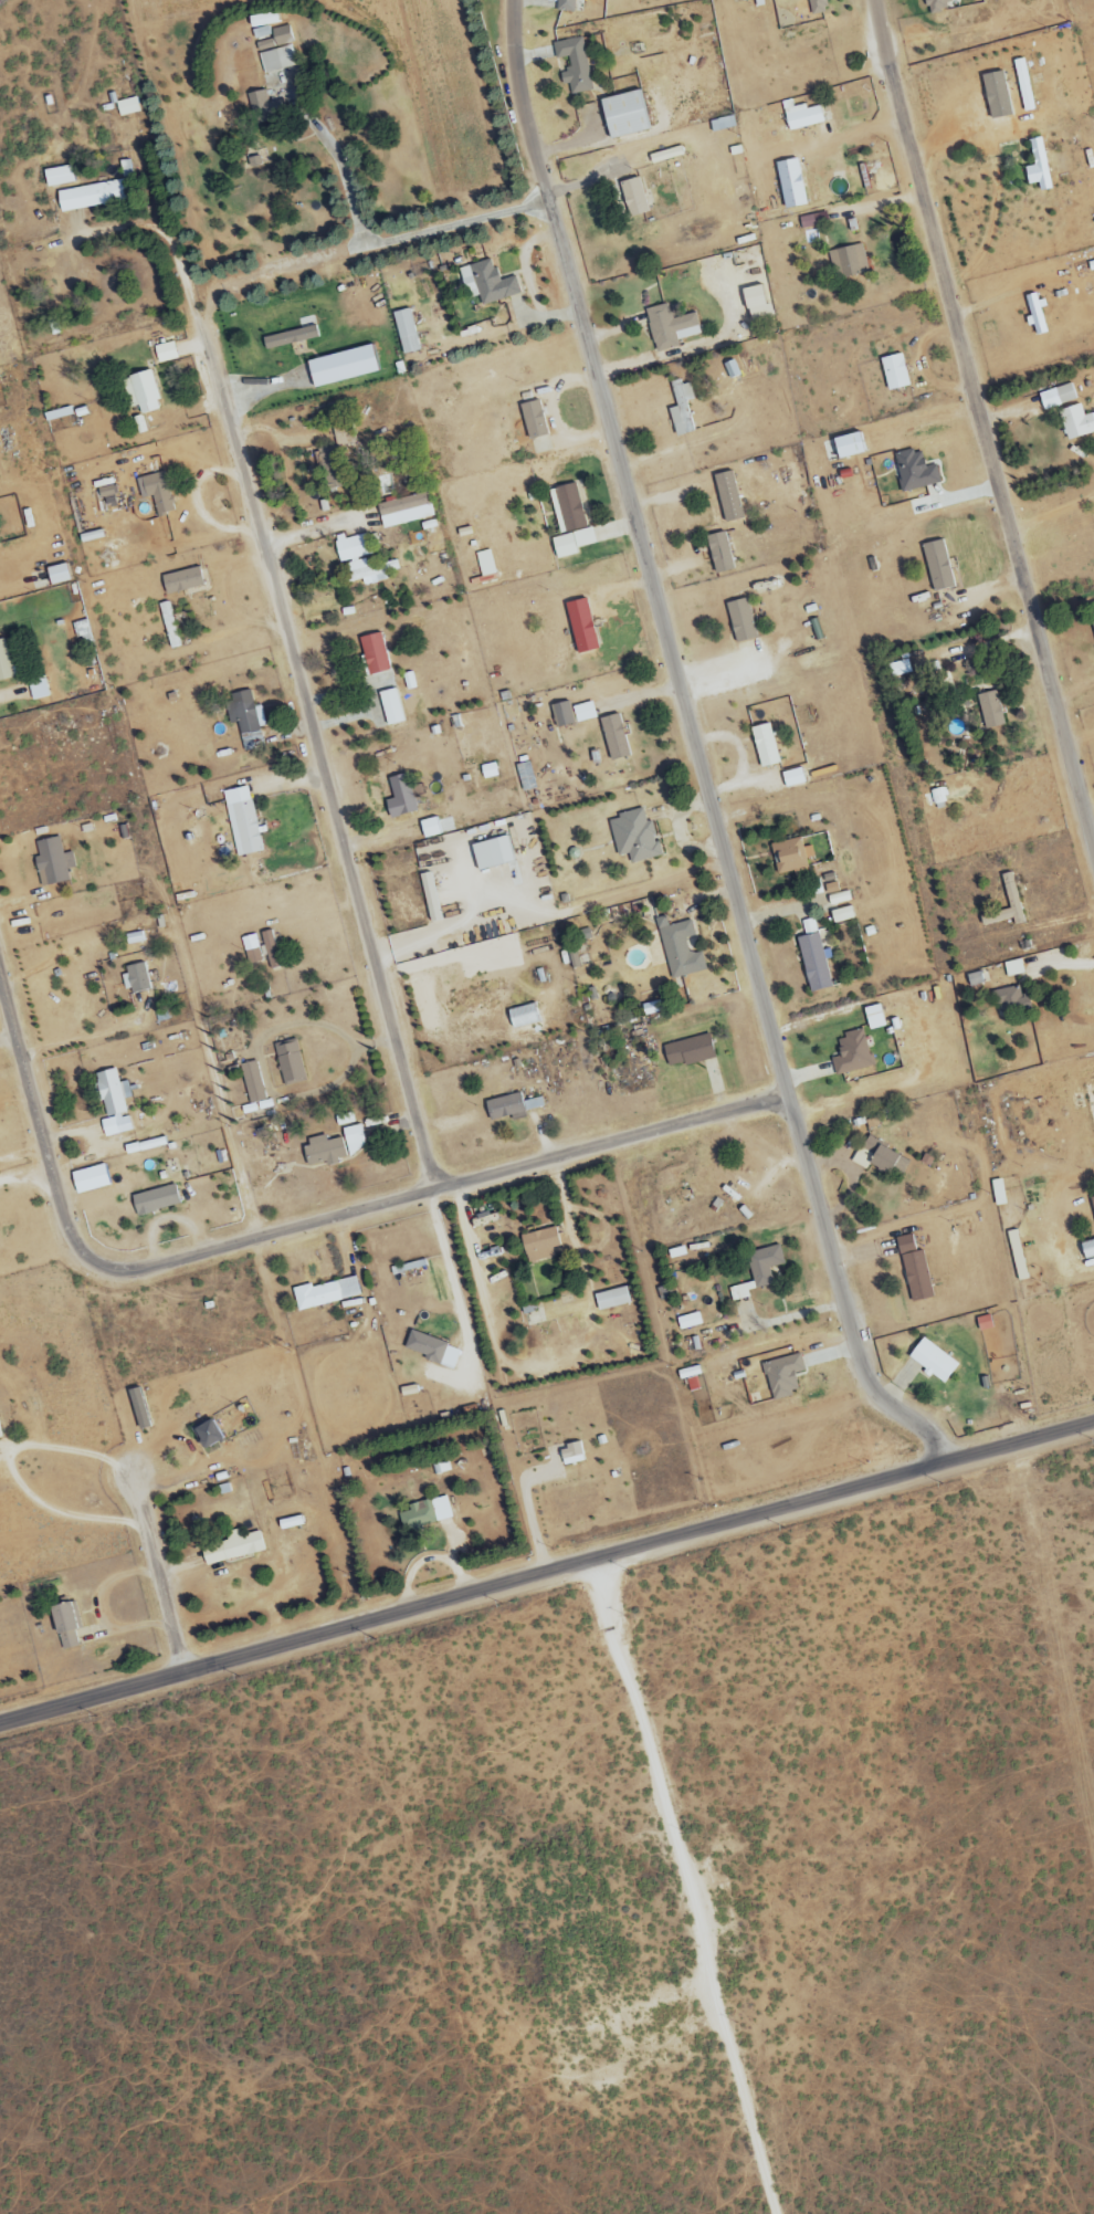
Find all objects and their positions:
building: (756, 2)
building: (565, 6)
building: (937, 6)
building: (818, 7)
building: (262, 20)
building: (275, 35)
building: (278, 60)
building: (574, 65)
building: (1022, 85)
building: (127, 107)
building: (622, 115)
building: (802, 117)
building: (722, 124)
road: (339, 150)
building: (1037, 167)
building: (57, 177)
building: (789, 183)
building: (90, 197)
building: (629, 199)
road: (166, 237)
road: (369, 243)
building: (848, 262)
building: (486, 283)
building: (756, 307)
building: (1035, 314)
building: (669, 327)
building: (404, 332)
building: (290, 337)
building: (165, 353)
building: (340, 366)
building: (894, 373)
building: (0, 379)
building: (141, 392)
building: (1058, 397)
building: (681, 409)
road: (982, 418)
building: (534, 420)
building: (1075, 422)
building: (344, 434)
building: (843, 448)
building: (329, 468)
building: (914, 472)
building: (156, 492)
building: (104, 493)
building: (728, 497)
building: (567, 508)
building: (404, 511)
building: (571, 543)
building: (719, 553)
building: (364, 559)
building: (485, 564)
building: (937, 566)
building: (65, 575)
building: (182, 581)
building: (739, 620)
building: (169, 626)
building: (580, 626)
road: (988, 640)
building: (375, 653)
building: (10, 664)
building: (900, 669)
building: (42, 689)
building: (391, 707)
building: (990, 710)
building: (571, 713)
building: (246, 720)
building: (614, 737)
building: (764, 745)
road: (696, 748)
building: (368, 751)
road: (317, 758)
building: (487, 770)
building: (525, 776)
building: (792, 778)
building: (938, 796)
building: (400, 797)
building: (242, 821)
building: (430, 828)
building: (633, 837)
building: (491, 852)
building: (791, 858)
building: (52, 862)
building: (822, 885)
building: (1010, 892)
building: (430, 898)
building: (839, 899)
building: (841, 915)
building: (135, 938)
building: (680, 948)
building: (252, 949)
building: (271, 949)
building: (813, 958)
building: (1012, 968)
building: (136, 977)
building: (974, 978)
building: (1010, 999)
building: (522, 1016)
building: (873, 1017)
building: (687, 1051)
building: (851, 1053)
building: (290, 1063)
building: (252, 1081)
road: (213, 1087)
building: (113, 1102)
building: (512, 1105)
road: (35, 1126)
building: (336, 1143)
building: (881, 1158)
building: (88, 1179)
building: (997, 1193)
road: (433, 1195)
building: (155, 1200)
building: (539, 1245)
building: (1086, 1249)
building: (914, 1269)
building: (758, 1271)
building: (325, 1293)
building: (611, 1299)
road: (456, 1301)
building: (688, 1321)
building: (983, 1323)
building: (431, 1350)
building: (932, 1361)
building: (782, 1375)
building: (690, 1378)
building: (137, 1408)
building: (0, 1434)
building: (204, 1434)
building: (571, 1455)
road: (8, 1467)
building: (425, 1513)
building: (232, 1547)
road: (548, 1581)
road: (157, 1582)
building: (63, 1627)

